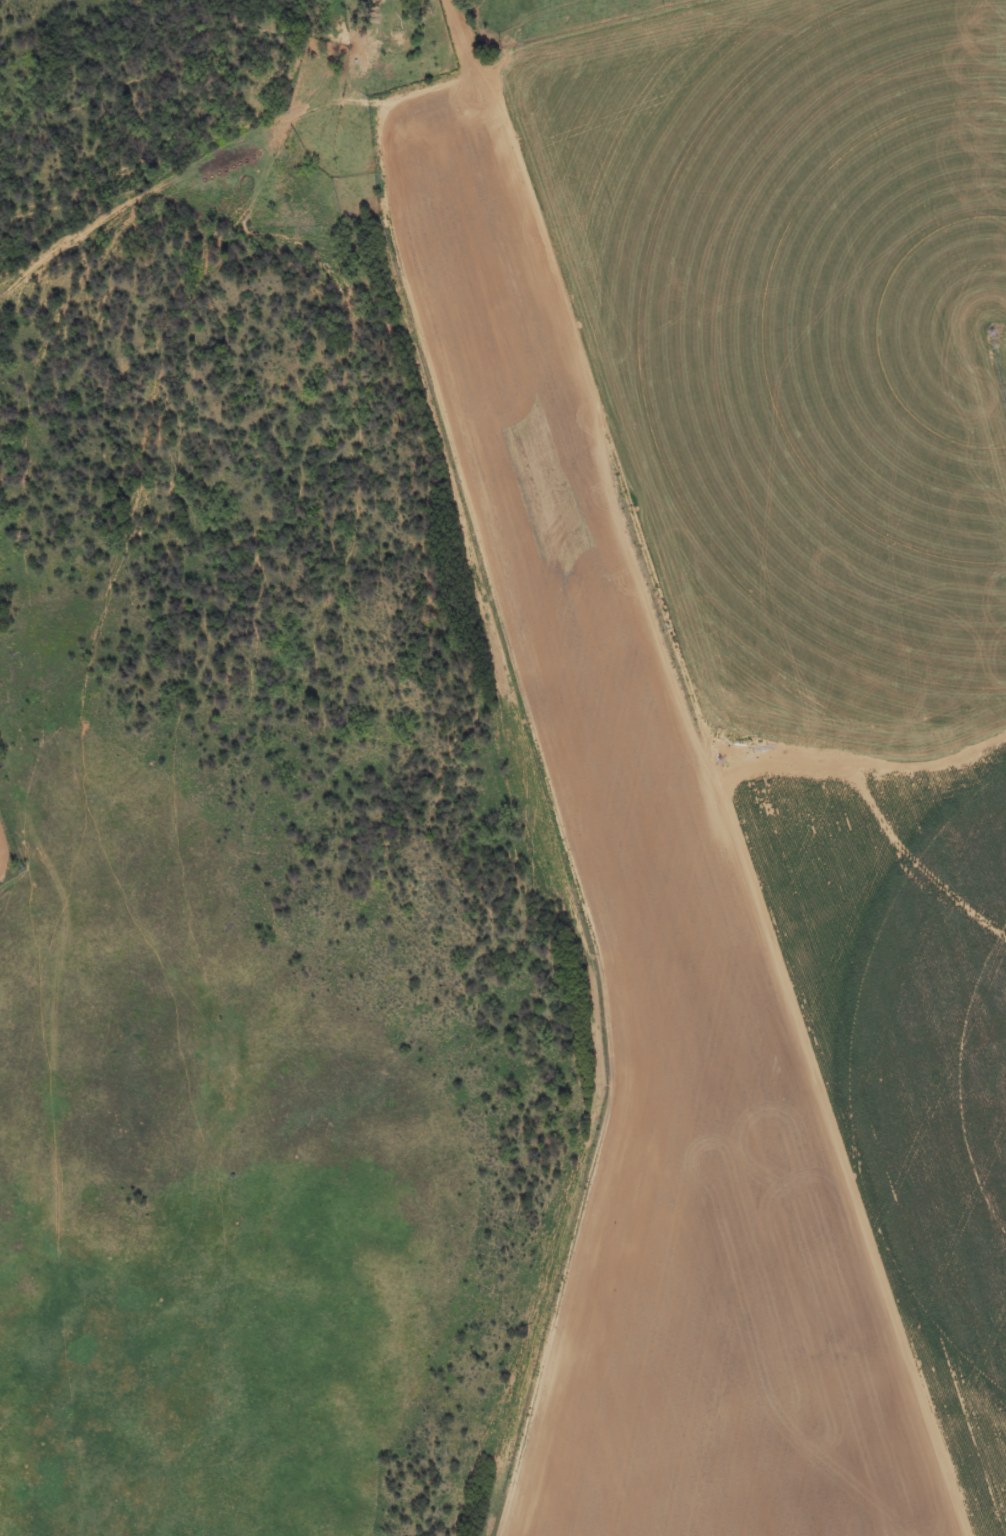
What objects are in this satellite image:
road: (490, 49)
road: (508, 107)
road: (66, 1103)

